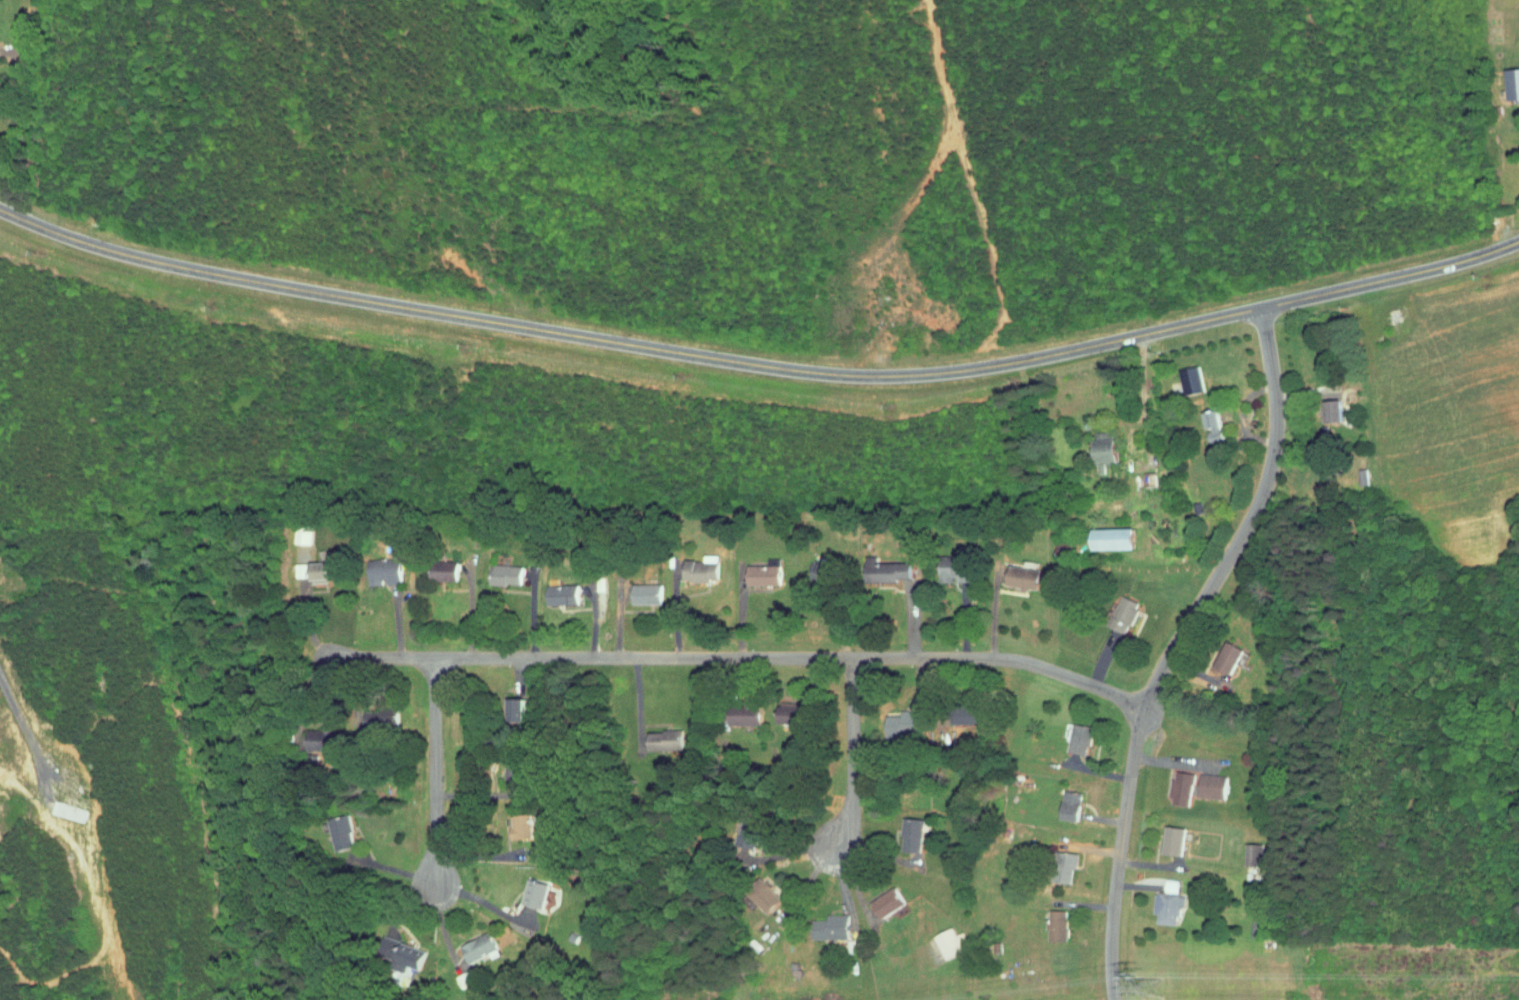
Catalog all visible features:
road: (30, 25)
building: (1508, 77)
road: (18, 114)
road: (758, 359)
building: (1182, 374)
building: (1328, 405)
building: (1207, 420)
road: (1129, 432)
building: (1099, 442)
building: (293, 527)
building: (1108, 533)
building: (817, 564)
building: (292, 565)
building: (439, 565)
building: (694, 565)
building: (886, 565)
building: (377, 566)
building: (947, 566)
building: (313, 567)
building: (758, 567)
building: (499, 569)
building: (1016, 572)
building: (639, 588)
building: (555, 589)
building: (1117, 608)
road: (1173, 645)
building: (1224, 653)
road: (736, 658)
building: (512, 704)
building: (785, 708)
building: (739, 709)
building: (958, 709)
building: (378, 714)
building: (896, 719)
road: (24, 731)
building: (1073, 733)
building: (314, 734)
building: (658, 734)
road: (852, 754)
building: (513, 765)
road: (435, 769)
building: (1204, 781)
building: (1172, 782)
building: (1064, 800)
building: (515, 820)
building: (334, 828)
building: (905, 829)
building: (742, 832)
building: (1167, 835)
building: (1244, 849)
road: (787, 854)
building: (1063, 854)
building: (529, 888)
building: (760, 893)
building: (881, 897)
building: (1159, 898)
road: (486, 902)
building: (1048, 919)
building: (829, 921)
building: (1251, 922)
building: (941, 938)
building: (476, 943)
building: (403, 952)
building: (459, 972)
power tower: (1155, 990)

